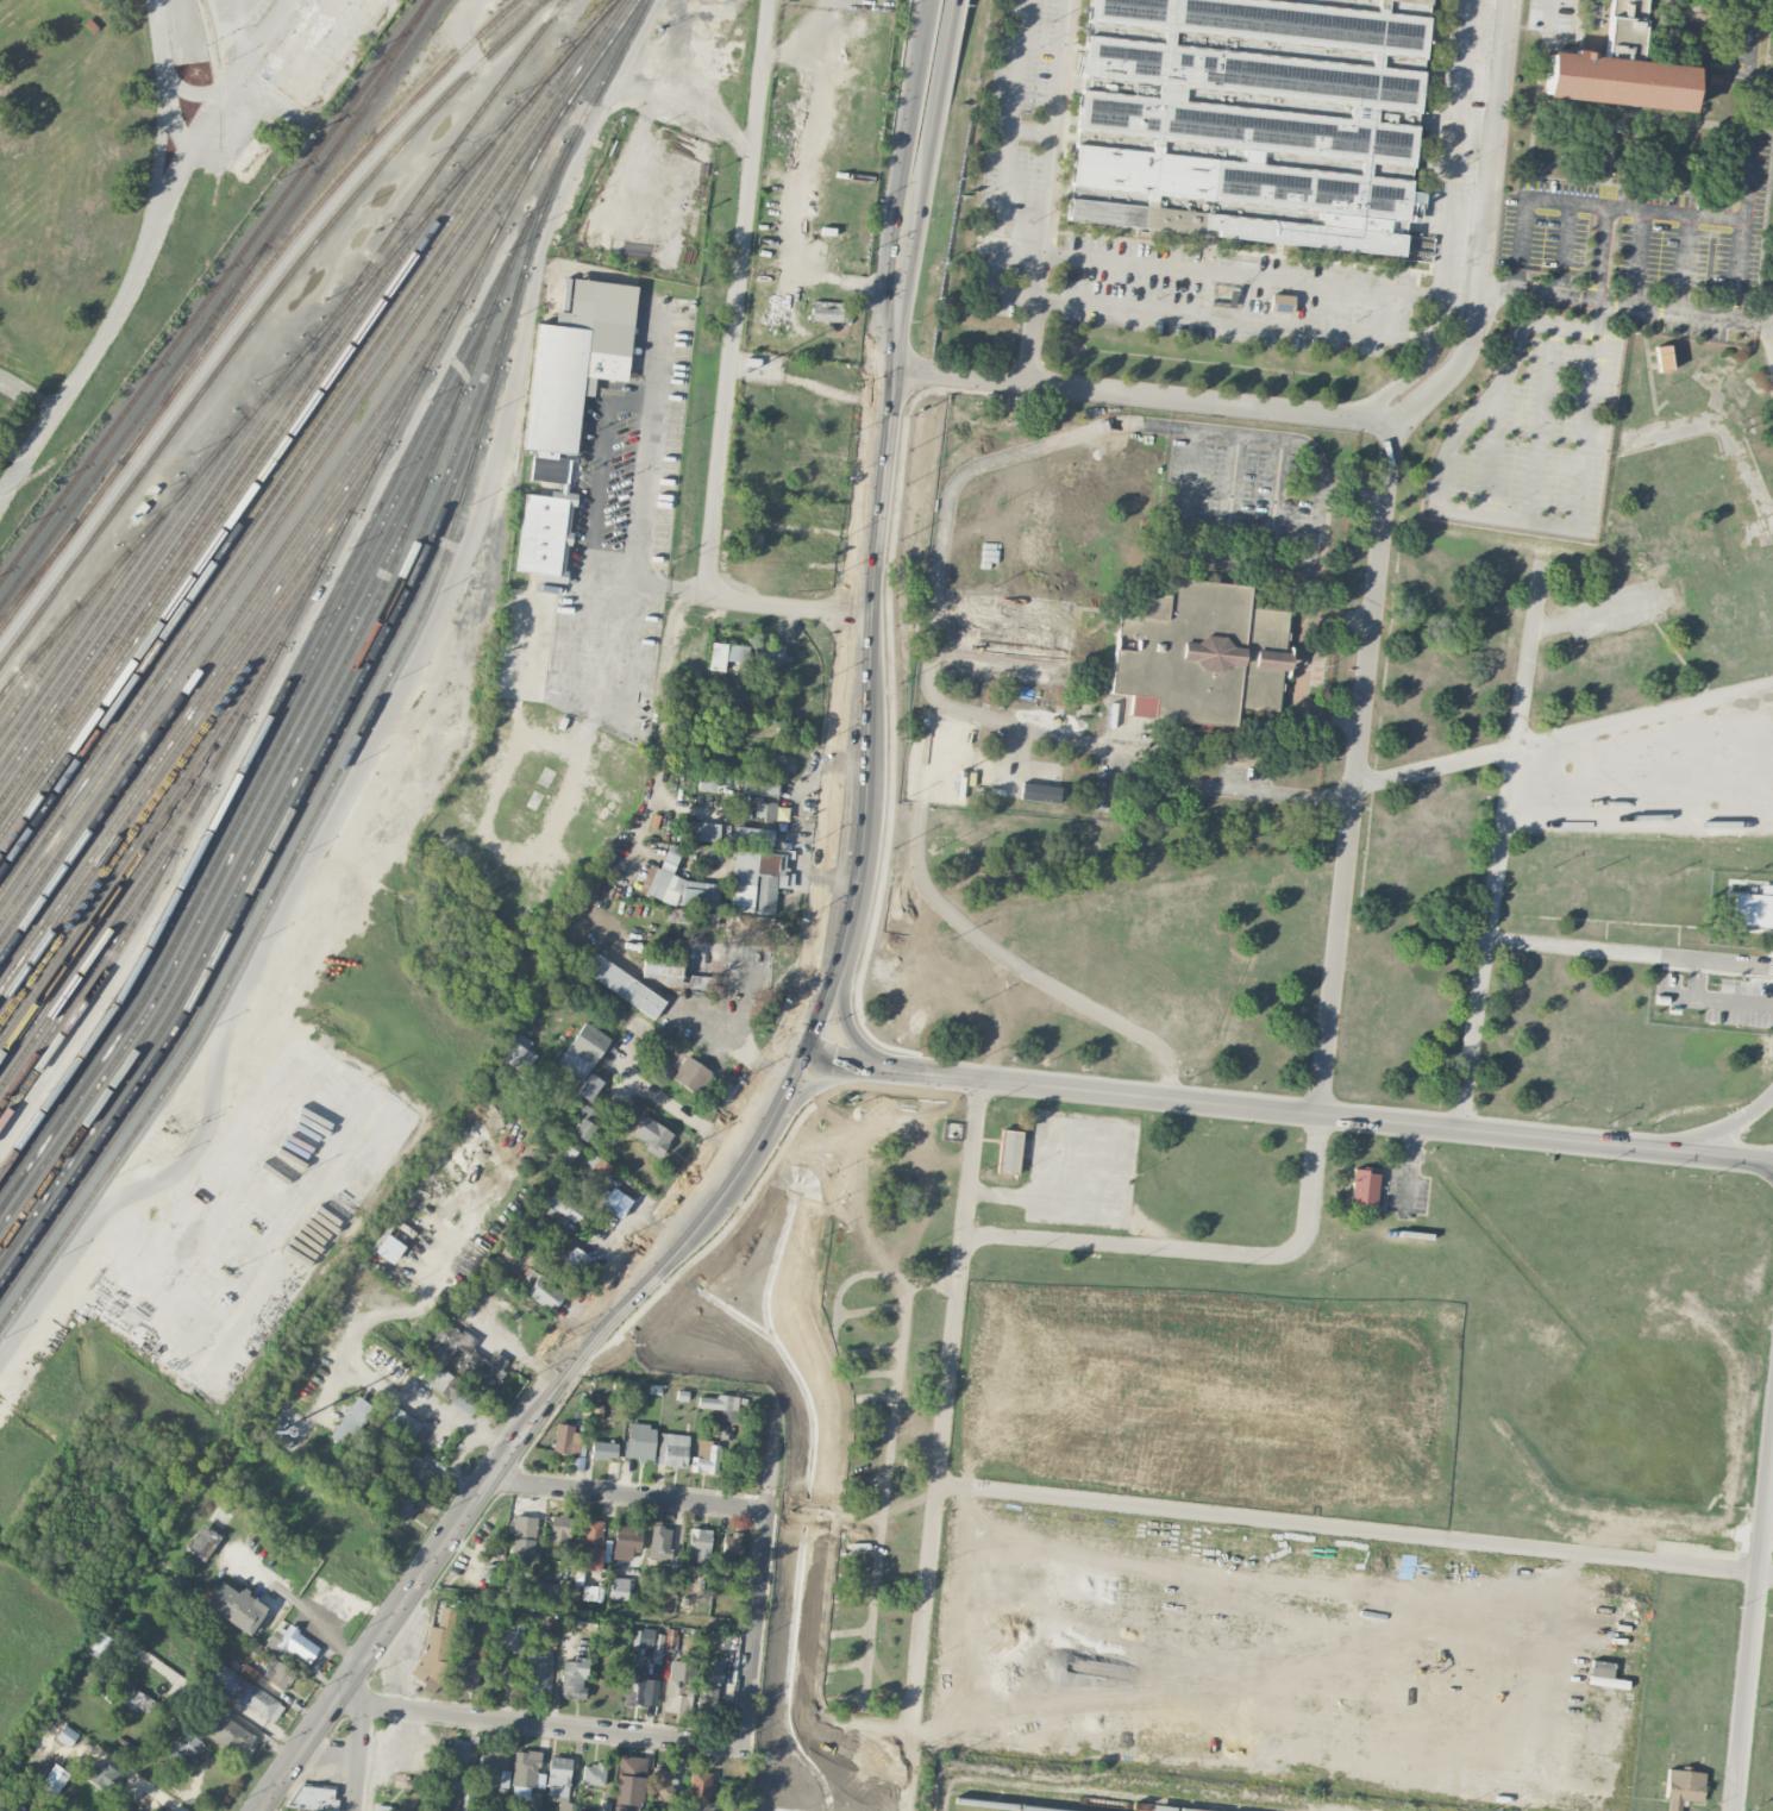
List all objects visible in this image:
road: (1549, 13)
parking lot: (1549, 15)
road: (234, 27)
road: (921, 30)
road: (926, 30)
building: (325, 50)
parking lot: (1748, 52)
building: (1619, 69)
railway: (374, 86)
railway: (381, 86)
railway: (221, 100)
road: (1066, 114)
road: (163, 119)
building: (1249, 119)
road: (1030, 130)
parking lot: (1456, 139)
road: (1612, 143)
railway: (447, 153)
railway: (476, 155)
parking lot: (1011, 155)
road: (1003, 167)
park: (65, 181)
road: (923, 184)
road: (1045, 192)
road: (1748, 192)
road: (1606, 194)
road: (1567, 201)
road: (896, 214)
road: (1447, 226)
parking lot: (1643, 227)
road: (1053, 236)
road: (146, 247)
road: (1565, 250)
road: (1051, 252)
road: (1635, 258)
road: (1205, 259)
road: (1205, 264)
road: (1680, 264)
road: (1383, 267)
road: (1735, 270)
road: (1239, 272)
railway: (213, 290)
parking lot: (1235, 296)
railway: (242, 299)
building: (1280, 303)
road: (1625, 306)
road: (1766, 307)
building: (831, 311)
railway: (256, 317)
road: (1756, 317)
road: (1232, 320)
parking lot: (1678, 324)
railway: (193, 353)
building: (1662, 357)
building: (576, 359)
road: (729, 376)
railway: (158, 387)
road: (29, 391)
road: (1145, 396)
road: (1541, 422)
parking lot: (1533, 432)
railway: (306, 443)
railway: (313, 452)
road: (1490, 453)
road: (602, 466)
railway: (276, 470)
railway: (252, 487)
road: (641, 491)
road: (1230, 496)
railway: (169, 502)
road: (1274, 502)
parking lot: (1242, 503)
railway: (224, 510)
road: (1474, 514)
building: (546, 519)
road: (1171, 522)
railway: (274, 526)
railway: (194, 534)
road: (1310, 534)
road: (1380, 544)
road: (1226, 558)
railway: (321, 565)
railway: (39, 566)
road: (1253, 568)
road: (940, 569)
railway: (151, 581)
road: (651, 581)
railway: (136, 587)
road: (1301, 590)
railway: (246, 597)
railway: (112, 603)
road: (1088, 606)
road: (1290, 606)
railway: (87, 623)
road: (1088, 629)
parking lot: (1008, 637)
road: (1061, 640)
railway: (61, 641)
railway: (227, 644)
building: (769, 653)
building: (1198, 653)
building: (726, 654)
parking lot: (1314, 659)
road: (1304, 662)
road: (1302, 663)
railway: (32, 666)
railway: (293, 671)
road: (400, 687)
railway: (378, 689)
railway: (203, 691)
road: (1278, 720)
road: (869, 729)
road: (1233, 733)
railway: (184, 737)
railway: (281, 737)
road: (1564, 738)
railway: (259, 756)
road: (1245, 763)
road: (1229, 775)
railway: (167, 777)
parking lot: (1243, 777)
building: (759, 785)
railway: (284, 796)
railway: (90, 807)
railway: (151, 817)
railway: (245, 827)
building: (702, 829)
building: (752, 836)
road: (1502, 842)
railway: (265, 854)
railway: (136, 858)
railway: (230, 878)
building: (754, 881)
building: (676, 884)
railway: (258, 891)
railway: (118, 900)
building: (1753, 910)
railway: (102, 938)
road: (1630, 954)
building: (704, 955)
railway: (80, 986)
building: (625, 986)
road: (850, 1023)
road: (731, 1044)
building: (582, 1051)
building: (519, 1054)
building: (693, 1076)
building: (590, 1085)
road: (803, 1091)
building: (597, 1098)
road: (1194, 1103)
road: (775, 1105)
building: (585, 1121)
road: (1716, 1127)
building: (652, 1135)
building: (771, 1145)
building: (1008, 1151)
road: (1680, 1155)
road: (970, 1166)
building: (1364, 1186)
building: (603, 1189)
building: (565, 1205)
building: (727, 1218)
road: (1077, 1242)
building: (571, 1261)
building: (539, 1289)
building: (731, 1322)
building: (683, 1339)
building: (462, 1367)
building: (720, 1405)
building: (400, 1420)
building: (351, 1422)
building: (568, 1440)
building: (639, 1441)
building: (603, 1449)
building: (672, 1449)
building: (706, 1458)
road: (499, 1464)
building: (415, 1472)
road: (626, 1496)
building: (400, 1504)
building: (559, 1529)
building: (591, 1529)
road: (1353, 1531)
building: (521, 1535)
building: (626, 1540)
building: (202, 1541)
building: (659, 1541)
building: (698, 1543)
building: (729, 1546)
building: (589, 1559)
building: (669, 1578)
building: (619, 1587)
building: (547, 1590)
road: (287, 1592)
building: (589, 1592)
building: (236, 1606)
road: (334, 1618)
road: (754, 1625)
building: (552, 1629)
road: (1753, 1631)
building: (719, 1638)
building: (509, 1640)
building: (293, 1643)
building: (663, 1643)
road: (919, 1648)
building: (434, 1649)
building: (468, 1671)
building: (535, 1671)
building: (277, 1674)
building: (572, 1678)
building: (634, 1686)
building: (676, 1686)
building: (714, 1690)
building: (245, 1693)
building: (138, 1699)
road: (541, 1724)
building: (228, 1734)
building: (67, 1735)
building: (186, 1749)
building: (461, 1752)
road: (850, 1752)
road: (358, 1756)
road: (411, 1762)
building: (489, 1768)
building: (593, 1773)
building: (104, 1775)
building: (503, 1778)
building: (527, 1778)
building: (54, 1779)
building: (558, 1781)
road: (143, 1782)
building: (628, 1782)
building: (660, 1784)
building: (700, 1787)
building: (1683, 1787)
building: (314, 1797)
building: (785, 1798)
railway: (1064, 1798)
railway: (1004, 1804)
building: (382, 1807)

